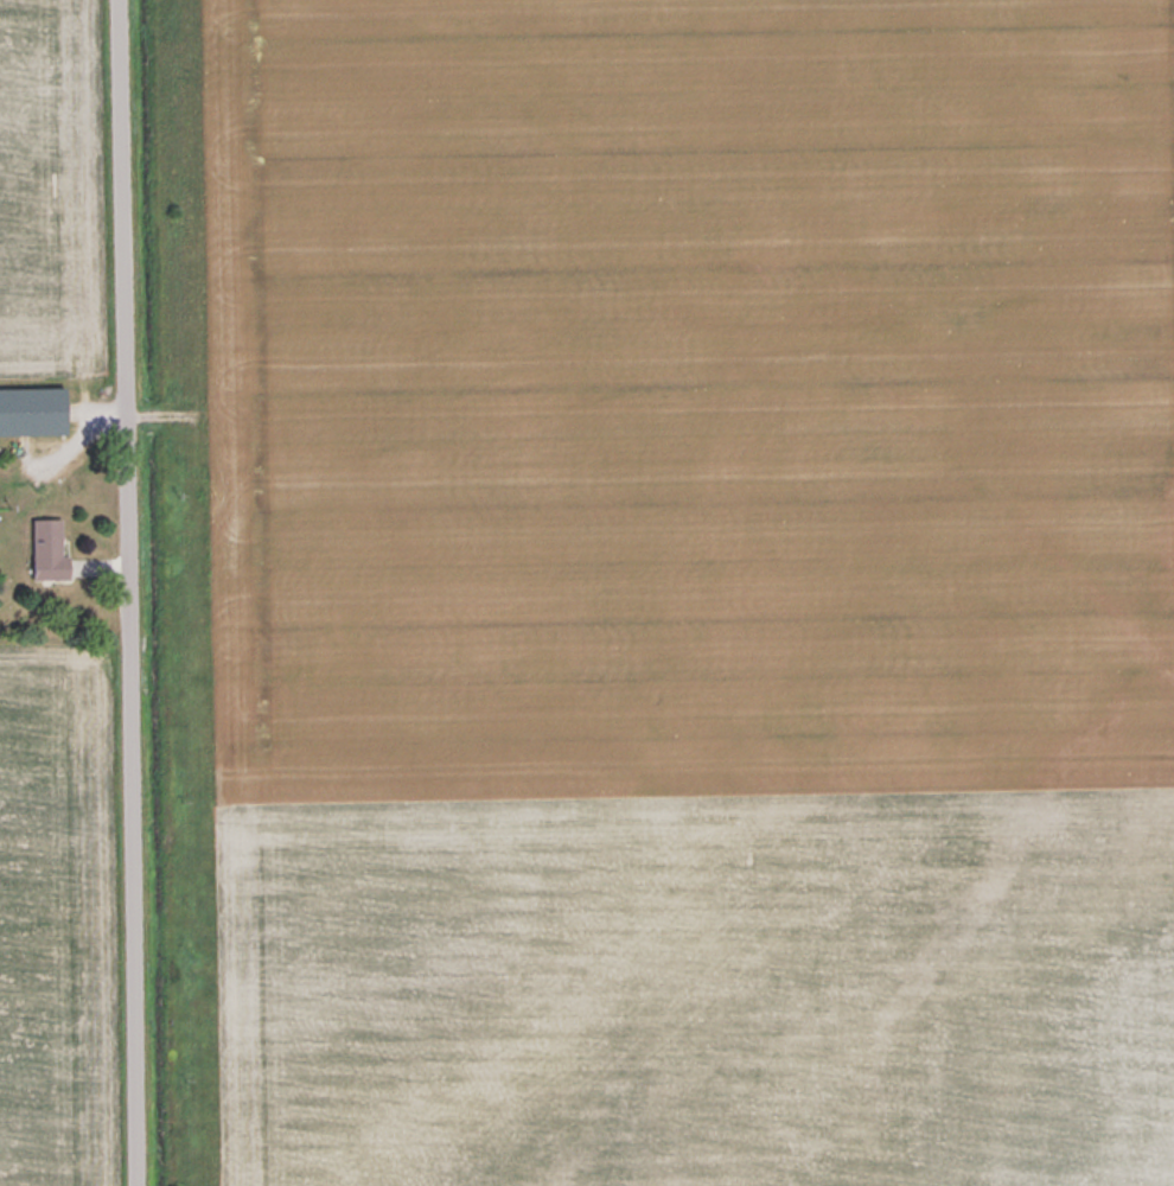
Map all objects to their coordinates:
building: (36, 409)
building: (52, 549)
road: (134, 593)

